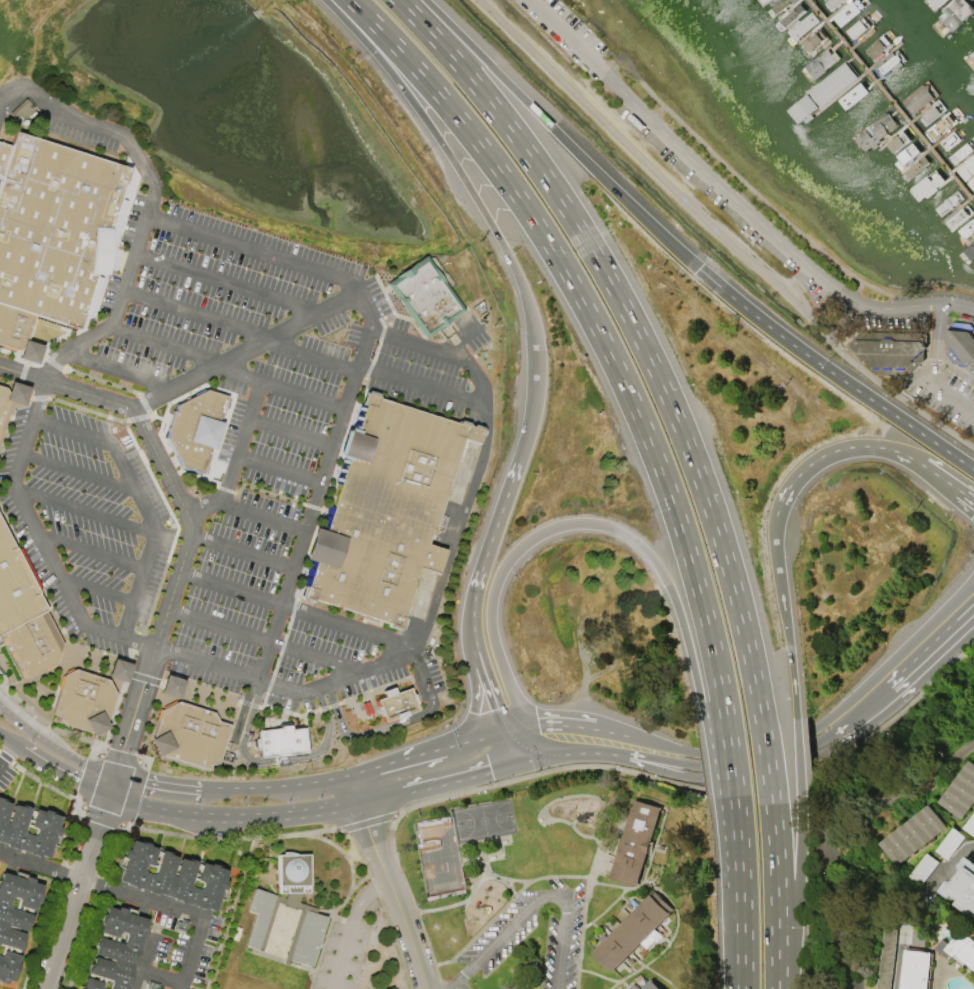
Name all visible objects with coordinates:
building: (768, 0)
building: (834, 3)
building: (936, 3)
building: (781, 5)
building: (847, 13)
building: (956, 13)
building: (791, 14)
building: (802, 26)
building: (857, 28)
building: (811, 42)
building: (878, 47)
building: (972, 55)
building: (819, 64)
building: (890, 65)
building: (823, 92)
building: (852, 95)
building: (919, 96)
pier: (889, 99)
building: (21, 110)
building: (932, 114)
road: (88, 123)
building: (940, 125)
building: (875, 130)
road: (559, 134)
building: (950, 139)
building: (897, 141)
building: (908, 152)
building: (961, 152)
building: (915, 168)
building: (967, 168)
building: (971, 183)
building: (926, 184)
road: (732, 197)
building: (947, 203)
road: (485, 214)
building: (959, 216)
building: (53, 226)
building: (968, 229)
road: (718, 233)
building: (968, 252)
road: (284, 259)
road: (119, 260)
road: (100, 281)
road: (226, 283)
building: (424, 297)
road: (334, 304)
building: (13, 327)
road: (241, 327)
road: (459, 337)
building: (960, 346)
road: (377, 347)
building: (889, 351)
building: (29, 352)
road: (440, 353)
road: (43, 357)
road: (24, 362)
road: (52, 362)
road: (222, 362)
road: (26, 364)
road: (935, 366)
road: (117, 370)
road: (225, 370)
road: (832, 372)
road: (23, 374)
road: (960, 380)
road: (100, 381)
road: (419, 385)
road: (67, 388)
road: (14, 392)
road: (188, 393)
building: (16, 394)
road: (630, 395)
road: (39, 398)
building: (2, 399)
road: (144, 404)
road: (9, 414)
road: (138, 417)
road: (156, 417)
road: (125, 422)
building: (195, 428)
road: (290, 432)
road: (832, 451)
road: (690, 455)
parking lot: (220, 458)
road: (235, 458)
building: (399, 461)
road: (278, 469)
road: (78, 472)
road: (940, 478)
road: (329, 488)
road: (225, 489)
road: (158, 491)
road: (265, 492)
road: (967, 495)
road: (139, 500)
road: (967, 502)
road: (313, 507)
road: (321, 509)
road: (84, 511)
traffic signals: (973, 513)
road: (310, 514)
road: (259, 517)
road: (190, 524)
road: (456, 530)
road: (639, 544)
road: (489, 545)
road: (90, 551)
road: (241, 552)
road: (51, 560)
building: (367, 563)
road: (32, 575)
building: (15, 587)
road: (96, 589)
road: (966, 602)
road: (966, 614)
road: (319, 617)
road: (264, 640)
road: (135, 641)
building: (33, 644)
road: (281, 646)
road: (476, 646)
road: (911, 666)
building: (118, 670)
road: (42, 672)
road: (925, 675)
road: (145, 679)
building: (171, 687)
road: (55, 691)
road: (374, 691)
road: (475, 694)
building: (83, 701)
road: (263, 702)
road: (249, 704)
building: (395, 704)
road: (328, 706)
road: (496, 707)
traffic signals: (497, 708)
road: (134, 711)
road: (242, 713)
road: (291, 713)
traffic signals: (473, 713)
road: (41, 718)
road: (834, 719)
road: (845, 721)
road: (369, 732)
building: (188, 735)
road: (7, 738)
road: (481, 738)
road: (817, 738)
road: (563, 740)
road: (841, 740)
building: (280, 741)
traffic signals: (541, 742)
road: (620, 745)
road: (53, 749)
road: (666, 750)
traffic signals: (122, 752)
road: (8, 753)
road: (798, 754)
road: (119, 757)
road: (667, 759)
road: (276, 760)
road: (397, 760)
road: (666, 768)
traffic signals: (491, 771)
road: (60, 773)
road: (87, 780)
traffic signals: (79, 783)
traffic signals: (145, 783)
road: (444, 783)
road: (110, 786)
road: (173, 787)
road: (294, 787)
road: (357, 790)
road: (132, 793)
building: (961, 793)
road: (101, 817)
road: (232, 818)
road: (828, 818)
park: (483, 819)
road: (366, 822)
traffic signals: (99, 824)
parking lot: (210, 825)
building: (27, 831)
road: (367, 831)
building: (913, 834)
building: (634, 842)
park: (496, 848)
road: (601, 848)
building: (170, 876)
road: (519, 880)
building: (962, 885)
road: (76, 893)
road: (468, 896)
road: (134, 897)
road: (525, 898)
road: (535, 901)
building: (260, 910)
road: (499, 910)
building: (14, 918)
road: (405, 922)
road: (349, 927)
road: (744, 927)
building: (630, 933)
building: (651, 939)
parking lot: (525, 942)
building: (958, 946)
building: (115, 950)
building: (886, 957)
road: (141, 961)
road: (569, 961)
road: (898, 968)
building: (915, 969)
road: (161, 976)
building: (650, 985)
road: (452, 988)

